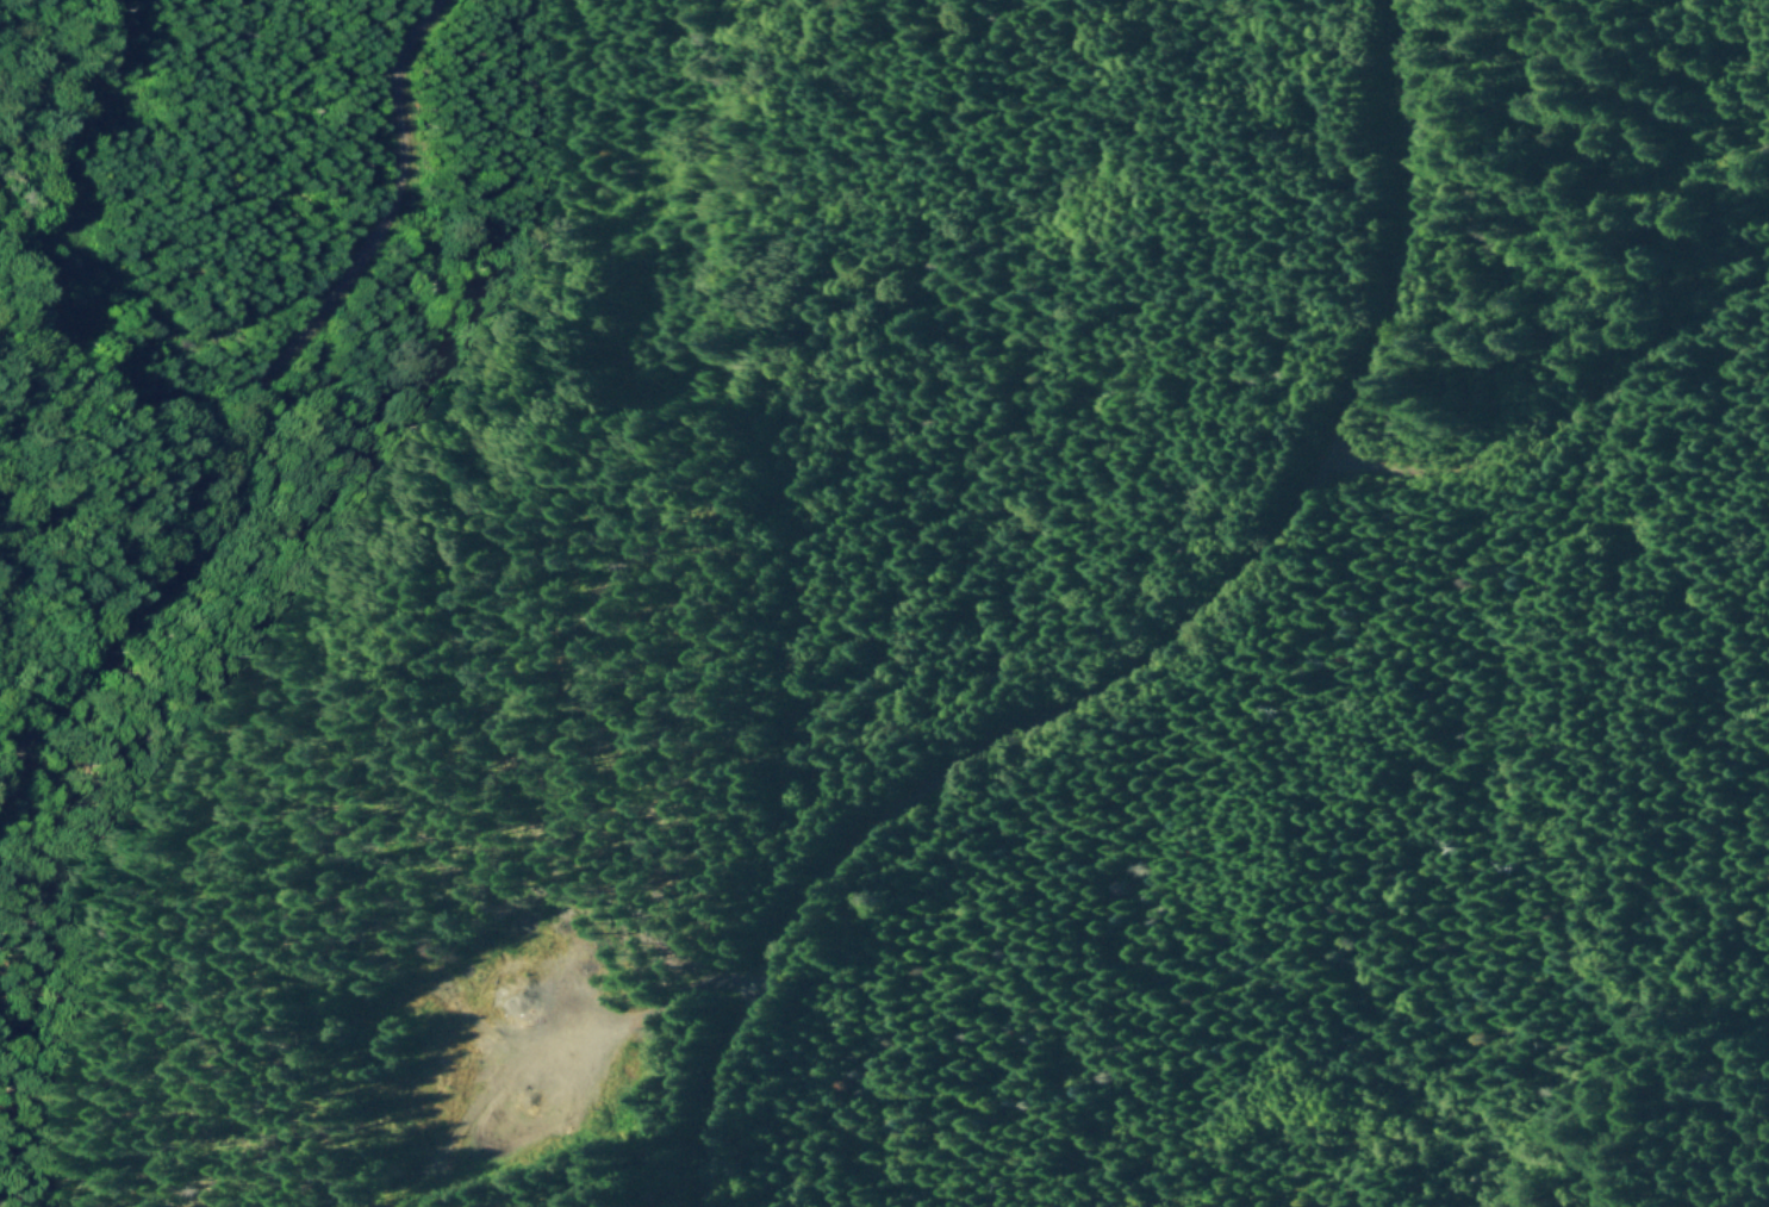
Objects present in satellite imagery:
road: (230, 396)
road: (1140, 657)

